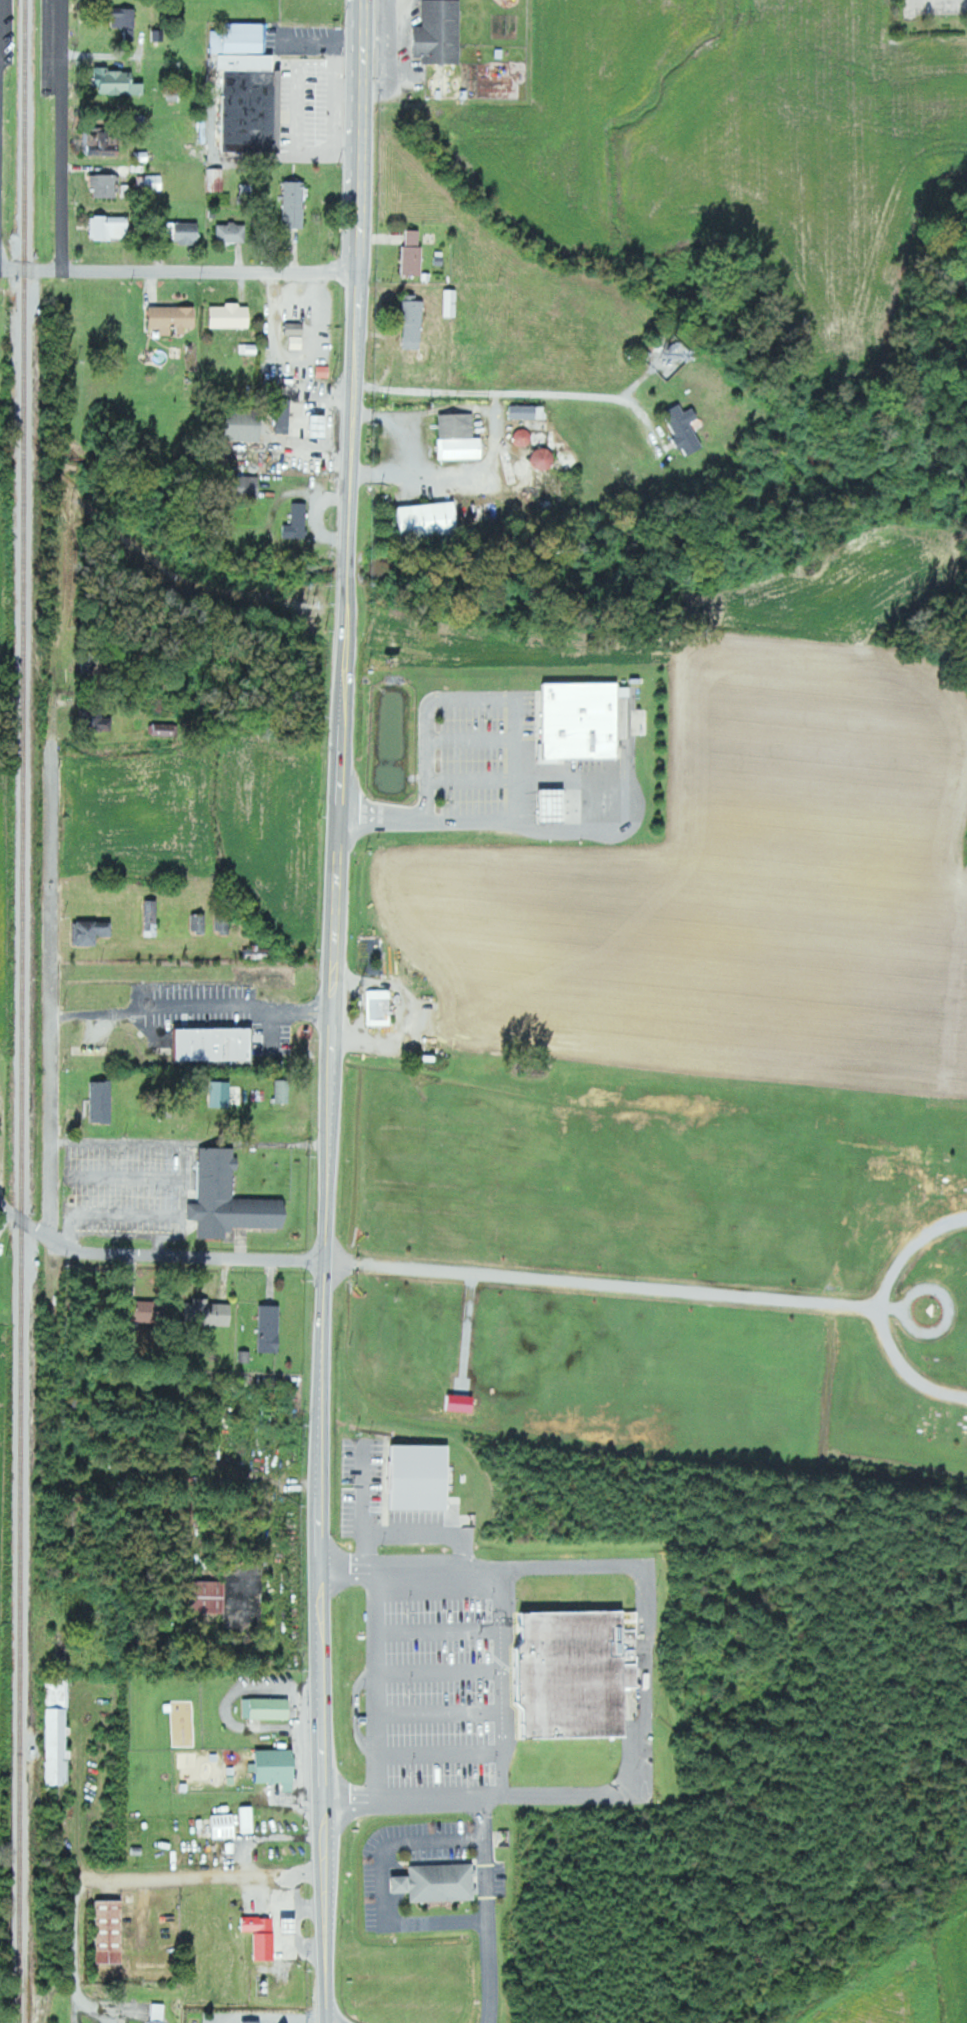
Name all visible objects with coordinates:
building: (129, 24)
building: (441, 32)
building: (241, 38)
building: (248, 61)
building: (119, 82)
parking lot: (306, 105)
building: (249, 110)
road: (61, 134)
building: (102, 144)
building: (215, 179)
building: (149, 182)
building: (106, 185)
building: (247, 191)
building: (294, 204)
building: (112, 227)
building: (232, 232)
building: (190, 233)
building: (415, 254)
road: (29, 269)
road: (208, 271)
building: (451, 303)
building: (233, 316)
building: (174, 319)
building: (414, 324)
building: (297, 329)
road: (494, 391)
road: (409, 421)
building: (285, 425)
road: (352, 425)
building: (246, 426)
building: (323, 426)
building: (685, 428)
building: (461, 438)
road: (465, 483)
building: (250, 486)
building: (433, 520)
building: (298, 522)
building: (97, 719)
building: (163, 729)
road: (516, 749)
building: (153, 917)
building: (199, 922)
building: (92, 931)
building: (260, 952)
road: (55, 988)
road: (192, 1007)
building: (380, 1007)
railway: (23, 1011)
building: (219, 1042)
building: (282, 1091)
building: (224, 1094)
building: (103, 1101)
road: (157, 1142)
road: (256, 1143)
building: (232, 1198)
road: (141, 1214)
road: (156, 1254)
road: (625, 1285)
road: (880, 1310)
building: (213, 1312)
building: (272, 1328)
road: (325, 1436)
building: (420, 1477)
building: (210, 1596)
road: (644, 1600)
building: (578, 1673)
road: (497, 1685)
building: (268, 1708)
building: (61, 1746)
building: (279, 1767)
road: (403, 1798)
building: (249, 1819)
building: (226, 1826)
road: (147, 1874)
building: (441, 1882)
road: (377, 1887)
road: (480, 1910)
building: (293, 1926)
building: (113, 1932)
building: (263, 1936)
building: (160, 2013)
building: (252, 2021)

